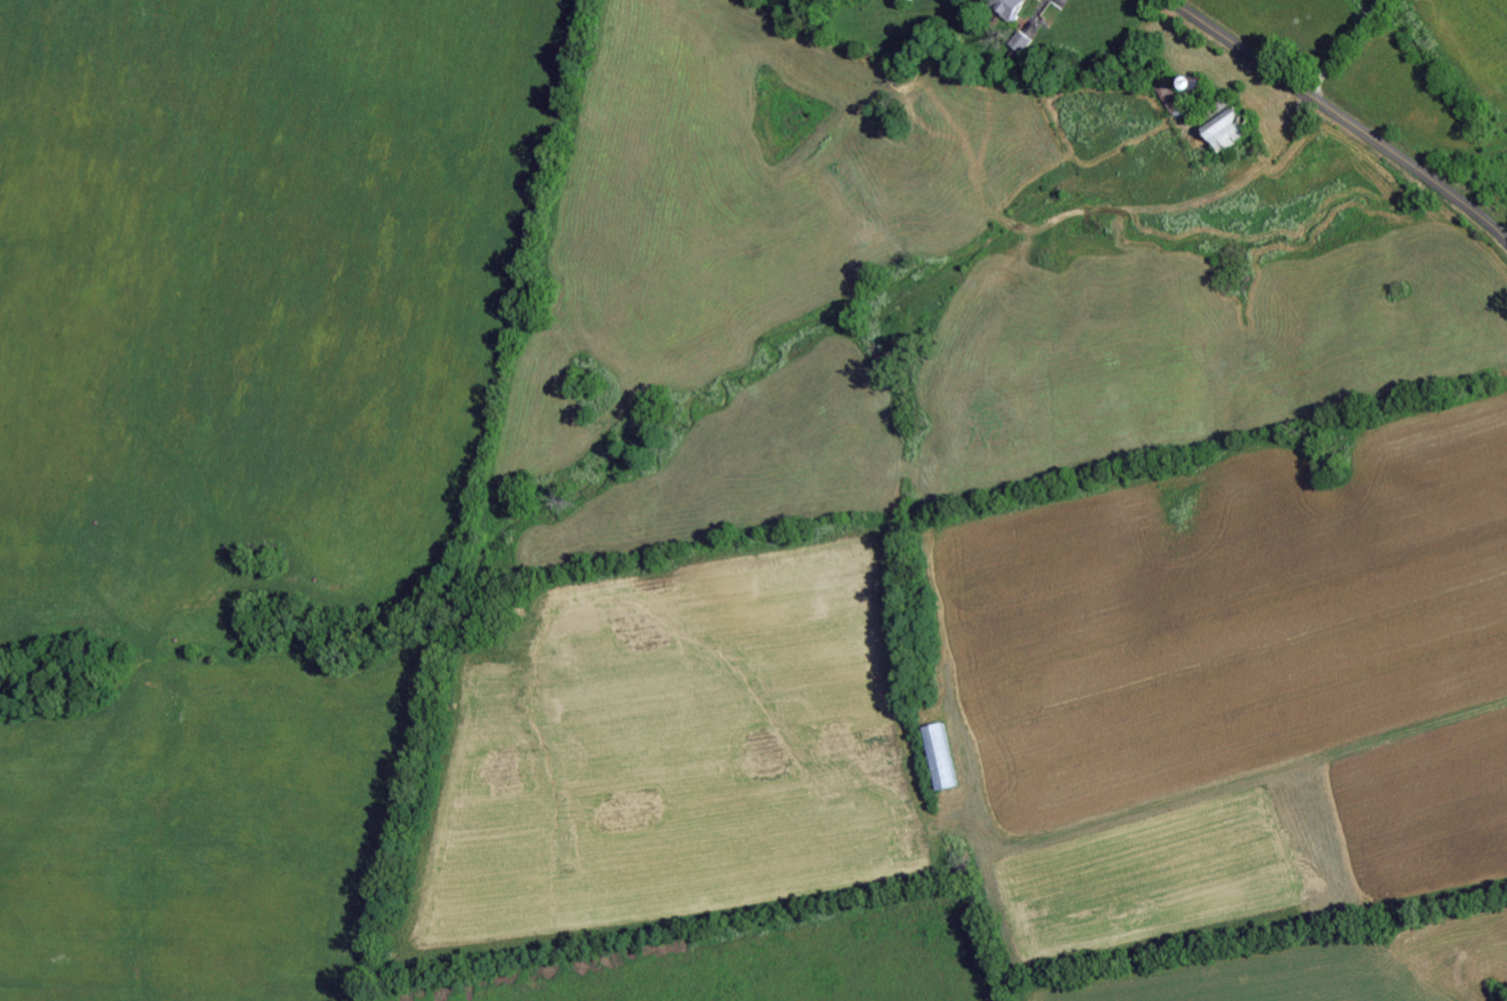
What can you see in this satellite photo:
building: (906, 0)
building: (1005, 6)
road: (1340, 46)
road: (1341, 117)
building: (1222, 123)
road: (1028, 291)

